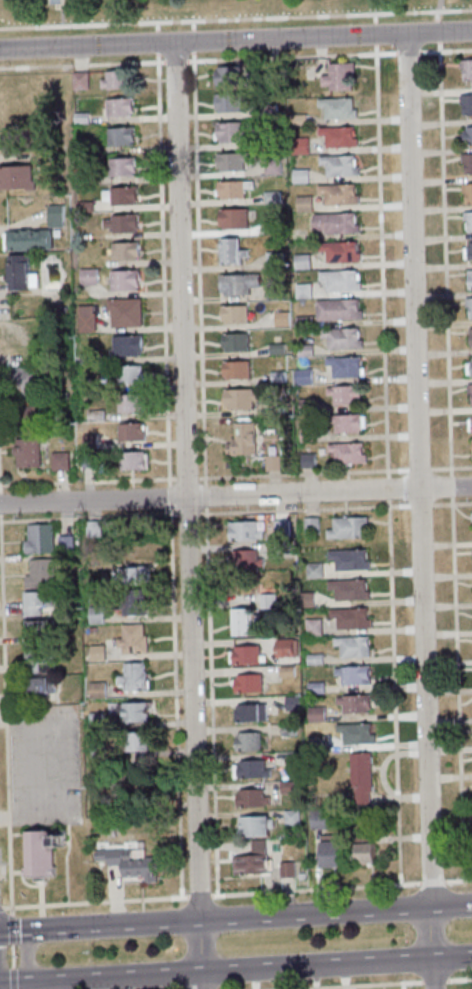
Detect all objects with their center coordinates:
park: (194, 9)
road: (61, 12)
road: (235, 18)
road: (436, 25)
road: (235, 40)
road: (445, 50)
road: (407, 52)
road: (230, 59)
building: (466, 70)
building: (226, 75)
building: (338, 76)
building: (116, 79)
building: (79, 81)
road: (157, 82)
road: (193, 101)
building: (227, 102)
building: (466, 104)
building: (118, 107)
building: (337, 108)
building: (268, 109)
building: (80, 117)
building: (298, 120)
building: (232, 131)
building: (119, 136)
building: (467, 136)
building: (337, 137)
building: (299, 146)
building: (81, 147)
building: (231, 161)
building: (466, 162)
building: (338, 165)
building: (272, 166)
building: (120, 167)
building: (299, 176)
building: (16, 177)
building: (81, 178)
building: (233, 189)
building: (467, 193)
building: (337, 194)
building: (122, 196)
building: (271, 197)
building: (303, 204)
building: (84, 206)
building: (55, 216)
building: (232, 218)
building: (468, 220)
building: (121, 223)
building: (335, 223)
building: (272, 228)
building: (28, 240)
road: (380, 245)
building: (124, 251)
building: (230, 251)
building: (469, 251)
building: (339, 252)
building: (274, 260)
building: (301, 262)
building: (20, 273)
building: (87, 277)
building: (469, 279)
building: (123, 280)
building: (339, 280)
building: (237, 283)
building: (274, 291)
building: (302, 291)
building: (468, 307)
building: (337, 310)
building: (124, 312)
building: (236, 313)
building: (85, 318)
building: (281, 319)
building: (303, 321)
building: (9, 334)
building: (470, 337)
building: (341, 338)
building: (234, 342)
building: (126, 345)
building: (276, 349)
building: (304, 350)
building: (86, 358)
building: (345, 367)
building: (470, 368)
building: (236, 369)
building: (129, 375)
building: (277, 377)
building: (303, 377)
building: (23, 384)
building: (469, 390)
building: (344, 394)
building: (239, 398)
building: (129, 403)
building: (305, 405)
building: (281, 409)
building: (24, 420)
building: (346, 423)
building: (471, 423)
building: (130, 432)
building: (307, 434)
building: (241, 439)
building: (89, 441)
building: (471, 444)
building: (26, 452)
building: (346, 453)
building: (471, 455)
building: (89, 460)
building: (307, 460)
building: (59, 461)
building: (131, 461)
building: (272, 463)
road: (418, 470)
road: (386, 489)
road: (236, 495)
road: (0, 509)
road: (186, 516)
building: (471, 516)
building: (310, 525)
building: (346, 527)
building: (92, 528)
building: (280, 528)
building: (243, 531)
building: (38, 539)
building: (64, 543)
building: (471, 552)
building: (244, 560)
building: (348, 560)
building: (313, 571)
building: (41, 575)
building: (129, 577)
building: (347, 589)
building: (305, 600)
building: (266, 602)
building: (36, 603)
building: (131, 603)
building: (95, 615)
building: (349, 618)
building: (239, 622)
building: (312, 627)
building: (35, 632)
building: (132, 640)
building: (351, 646)
building: (283, 648)
building: (95, 653)
building: (244, 655)
building: (313, 659)
building: (34, 660)
building: (285, 672)
building: (352, 675)
building: (133, 677)
building: (246, 683)
building: (314, 688)
building: (39, 689)
building: (97, 690)
road: (392, 696)
building: (291, 703)
building: (352, 703)
building: (132, 712)
building: (249, 713)
road: (5, 714)
building: (314, 715)
building: (97, 722)
building: (287, 730)
building: (354, 734)
building: (138, 742)
building: (246, 742)
building: (315, 743)
building: (96, 750)
building: (292, 761)
parking lot: (42, 765)
building: (250, 770)
building: (359, 777)
building: (287, 788)
building: (250, 799)
building: (290, 818)
building: (317, 818)
building: (253, 826)
building: (110, 833)
building: (361, 850)
building: (330, 854)
building: (40, 855)
building: (251, 860)
building: (128, 864)
building: (285, 870)
building: (299, 876)
road: (458, 881)
road: (429, 883)
road: (208, 896)
road: (451, 906)
road: (1, 907)
road: (234, 918)
road: (11, 928)
road: (19, 930)
road: (430, 933)
road: (26, 954)
road: (12, 956)
road: (451, 957)
road: (464, 967)
road: (233, 970)
road: (431, 973)
road: (402, 974)
road: (11, 978)
road: (459, 978)
road: (434, 980)
road: (17, 982)
road: (354, 984)
road: (219, 987)

